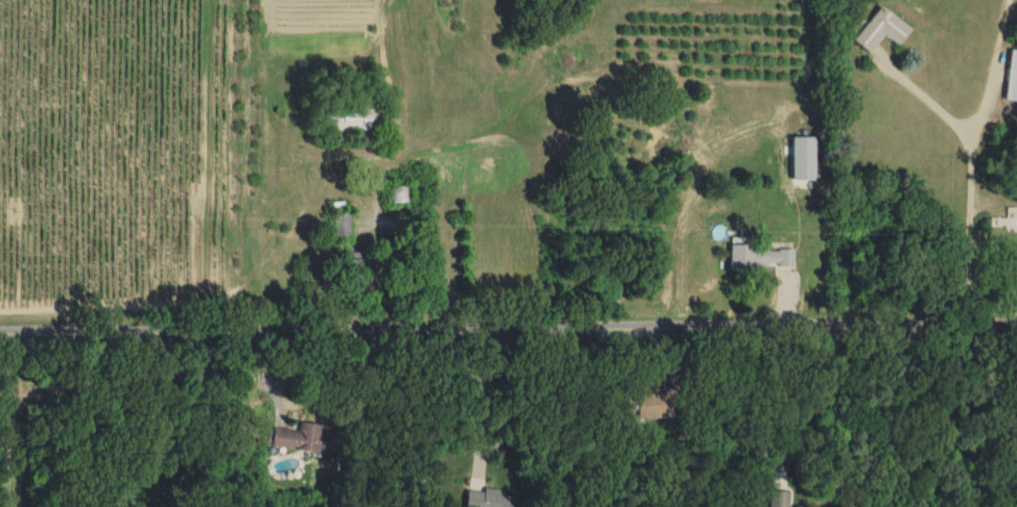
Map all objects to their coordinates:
building: (882, 27)
building: (1012, 74)
road: (920, 93)
building: (802, 160)
road: (968, 192)
building: (341, 222)
building: (757, 254)
road: (400, 262)
building: (357, 265)
building: (1015, 265)
road: (508, 328)
road: (479, 402)
building: (653, 403)
road: (811, 406)
road: (173, 424)
building: (294, 435)
building: (487, 498)
building: (778, 498)

